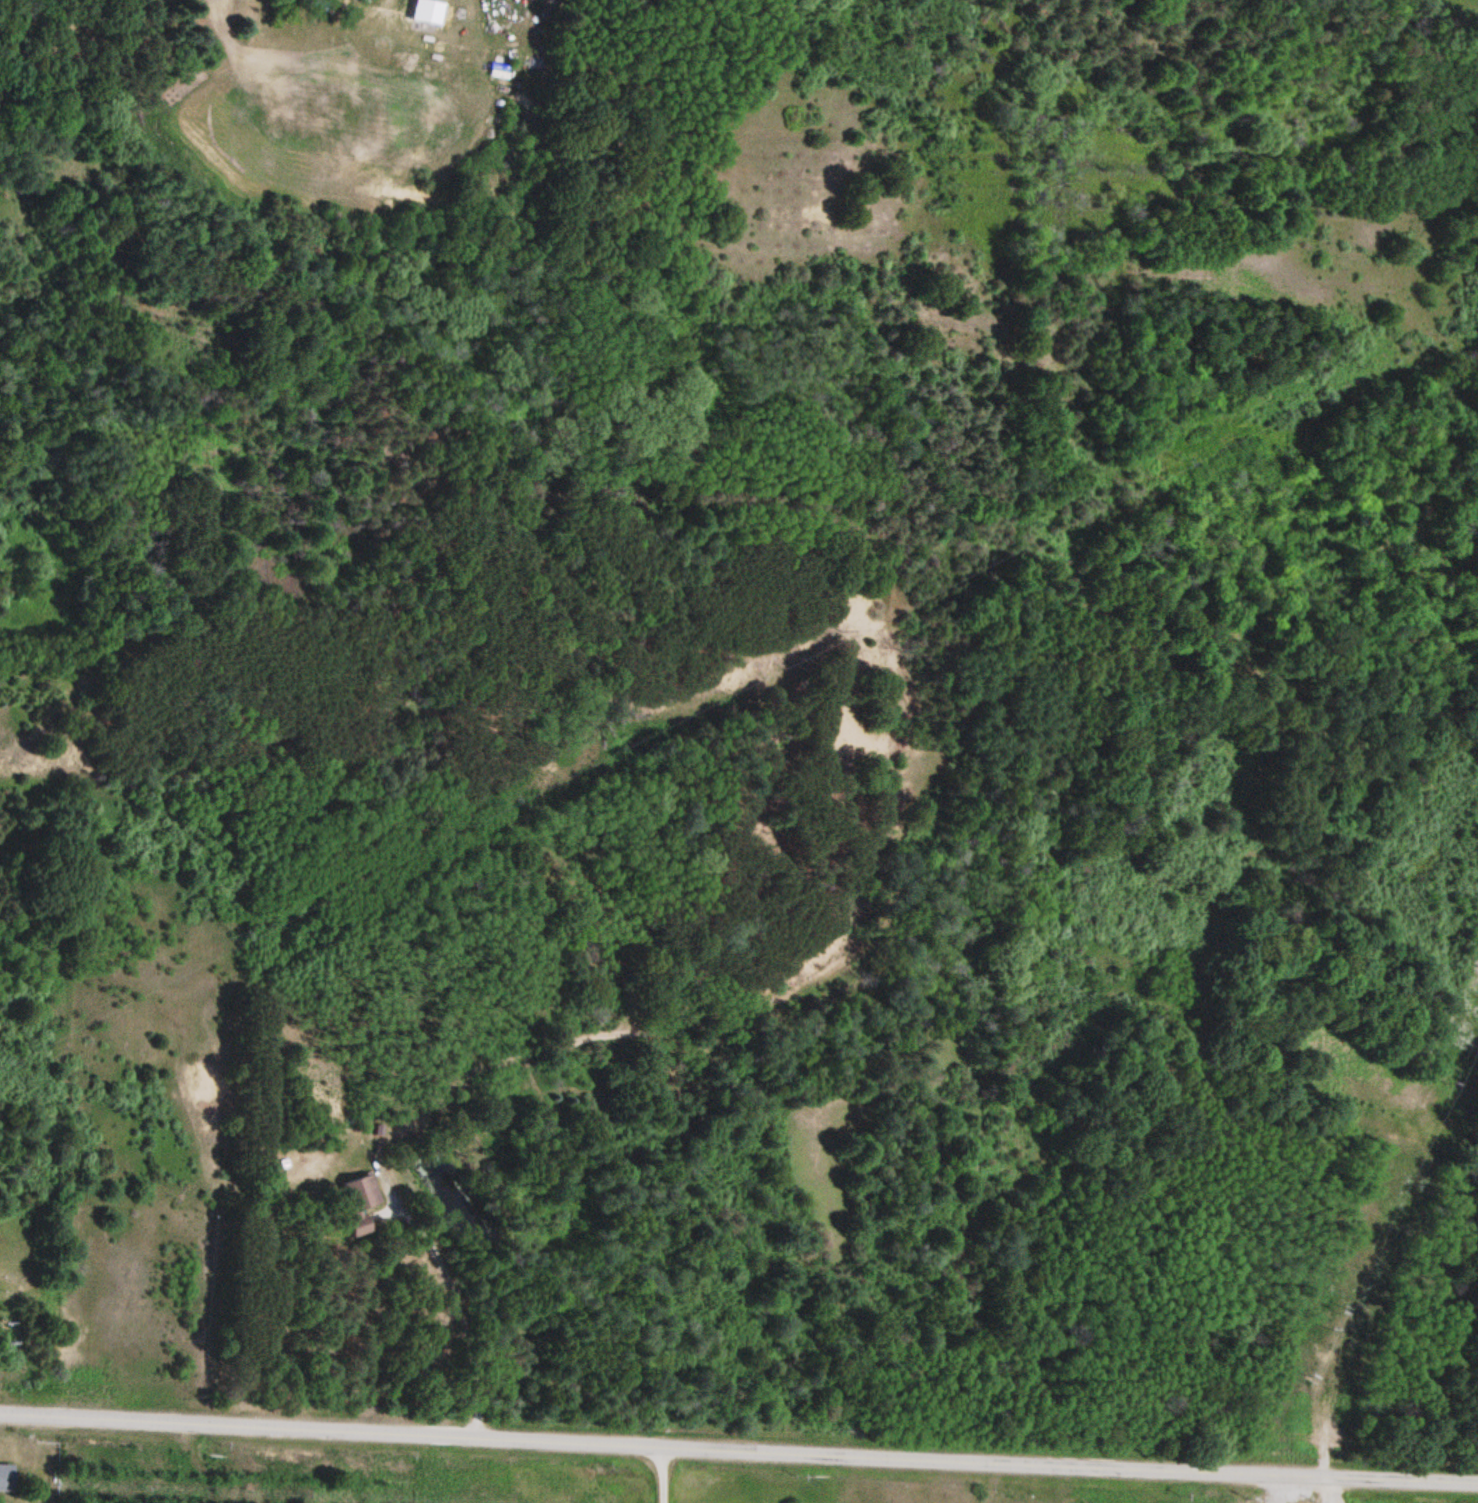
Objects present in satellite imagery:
building: (358, 1195)
road: (739, 1441)
building: (7, 1478)

